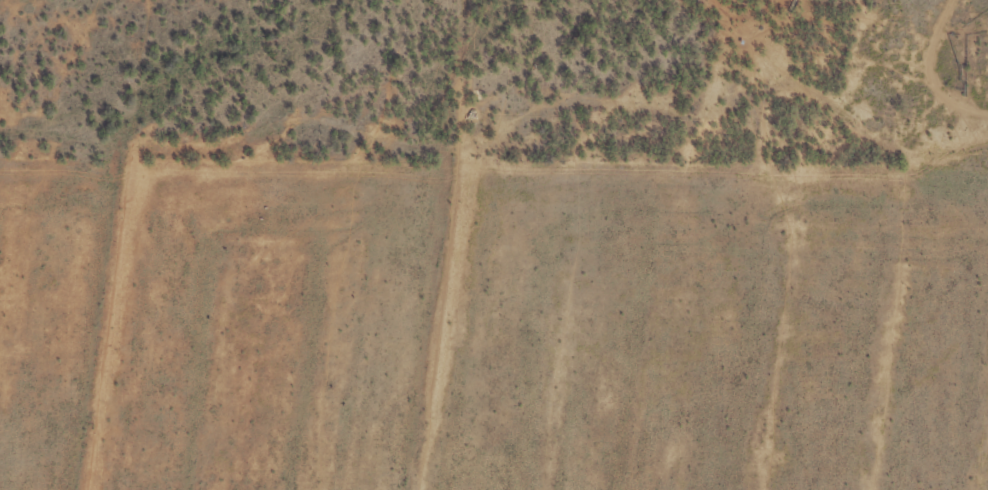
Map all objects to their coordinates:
road: (866, 167)
road: (594, 182)

